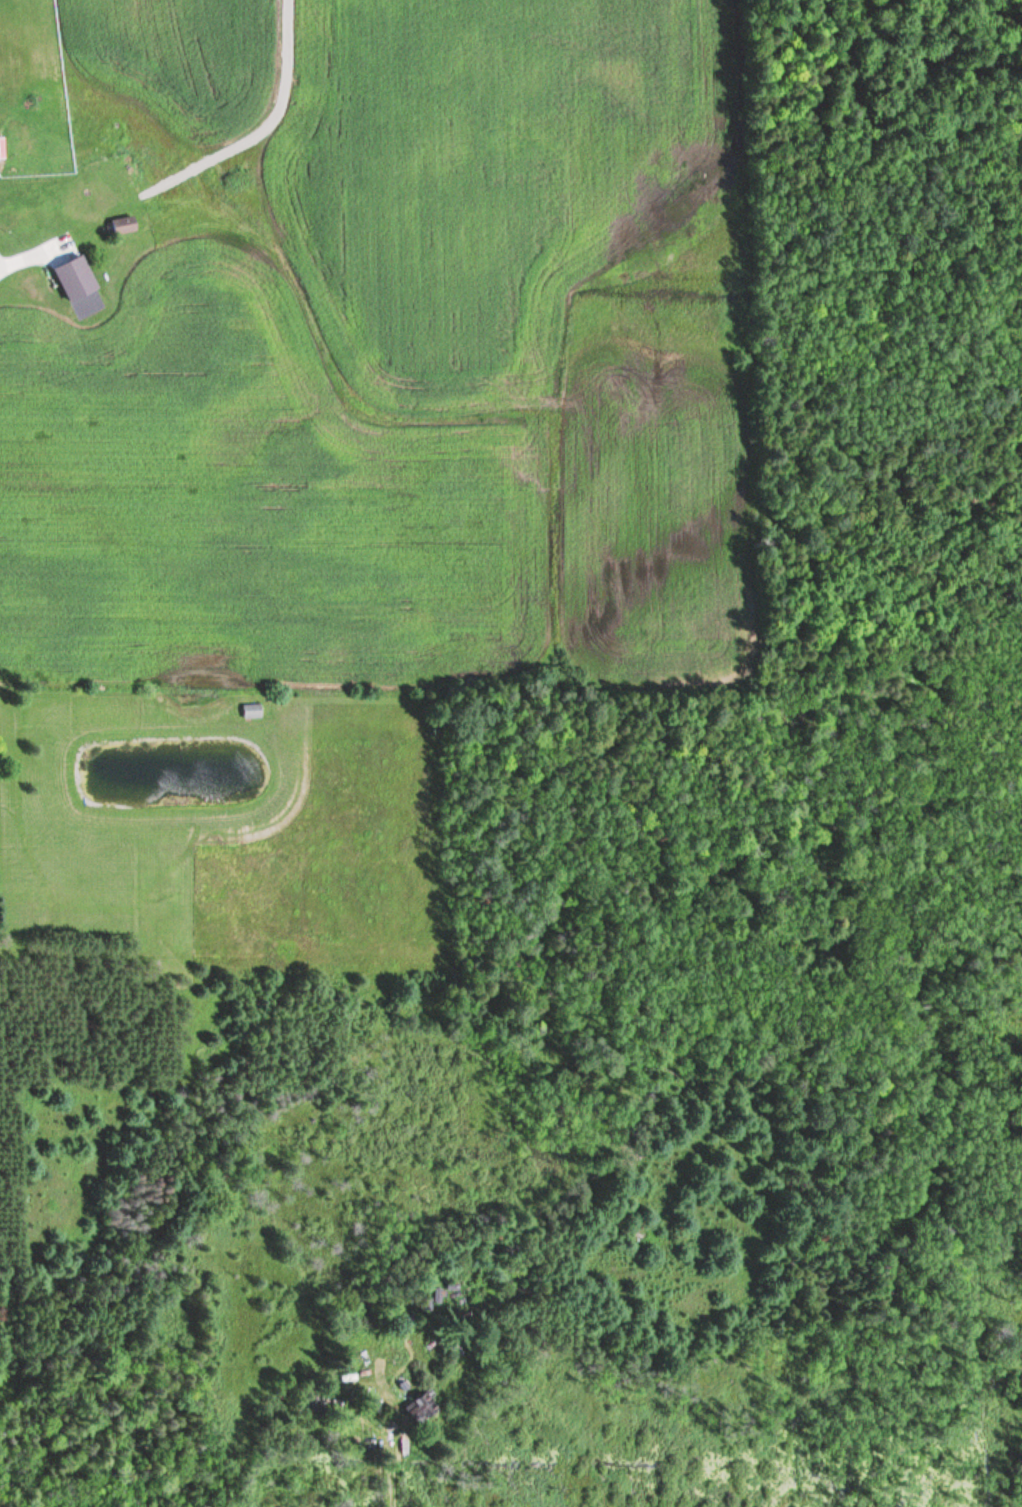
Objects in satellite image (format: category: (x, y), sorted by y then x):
building: (7, 186)
building: (120, 225)
building: (73, 277)
building: (250, 711)

